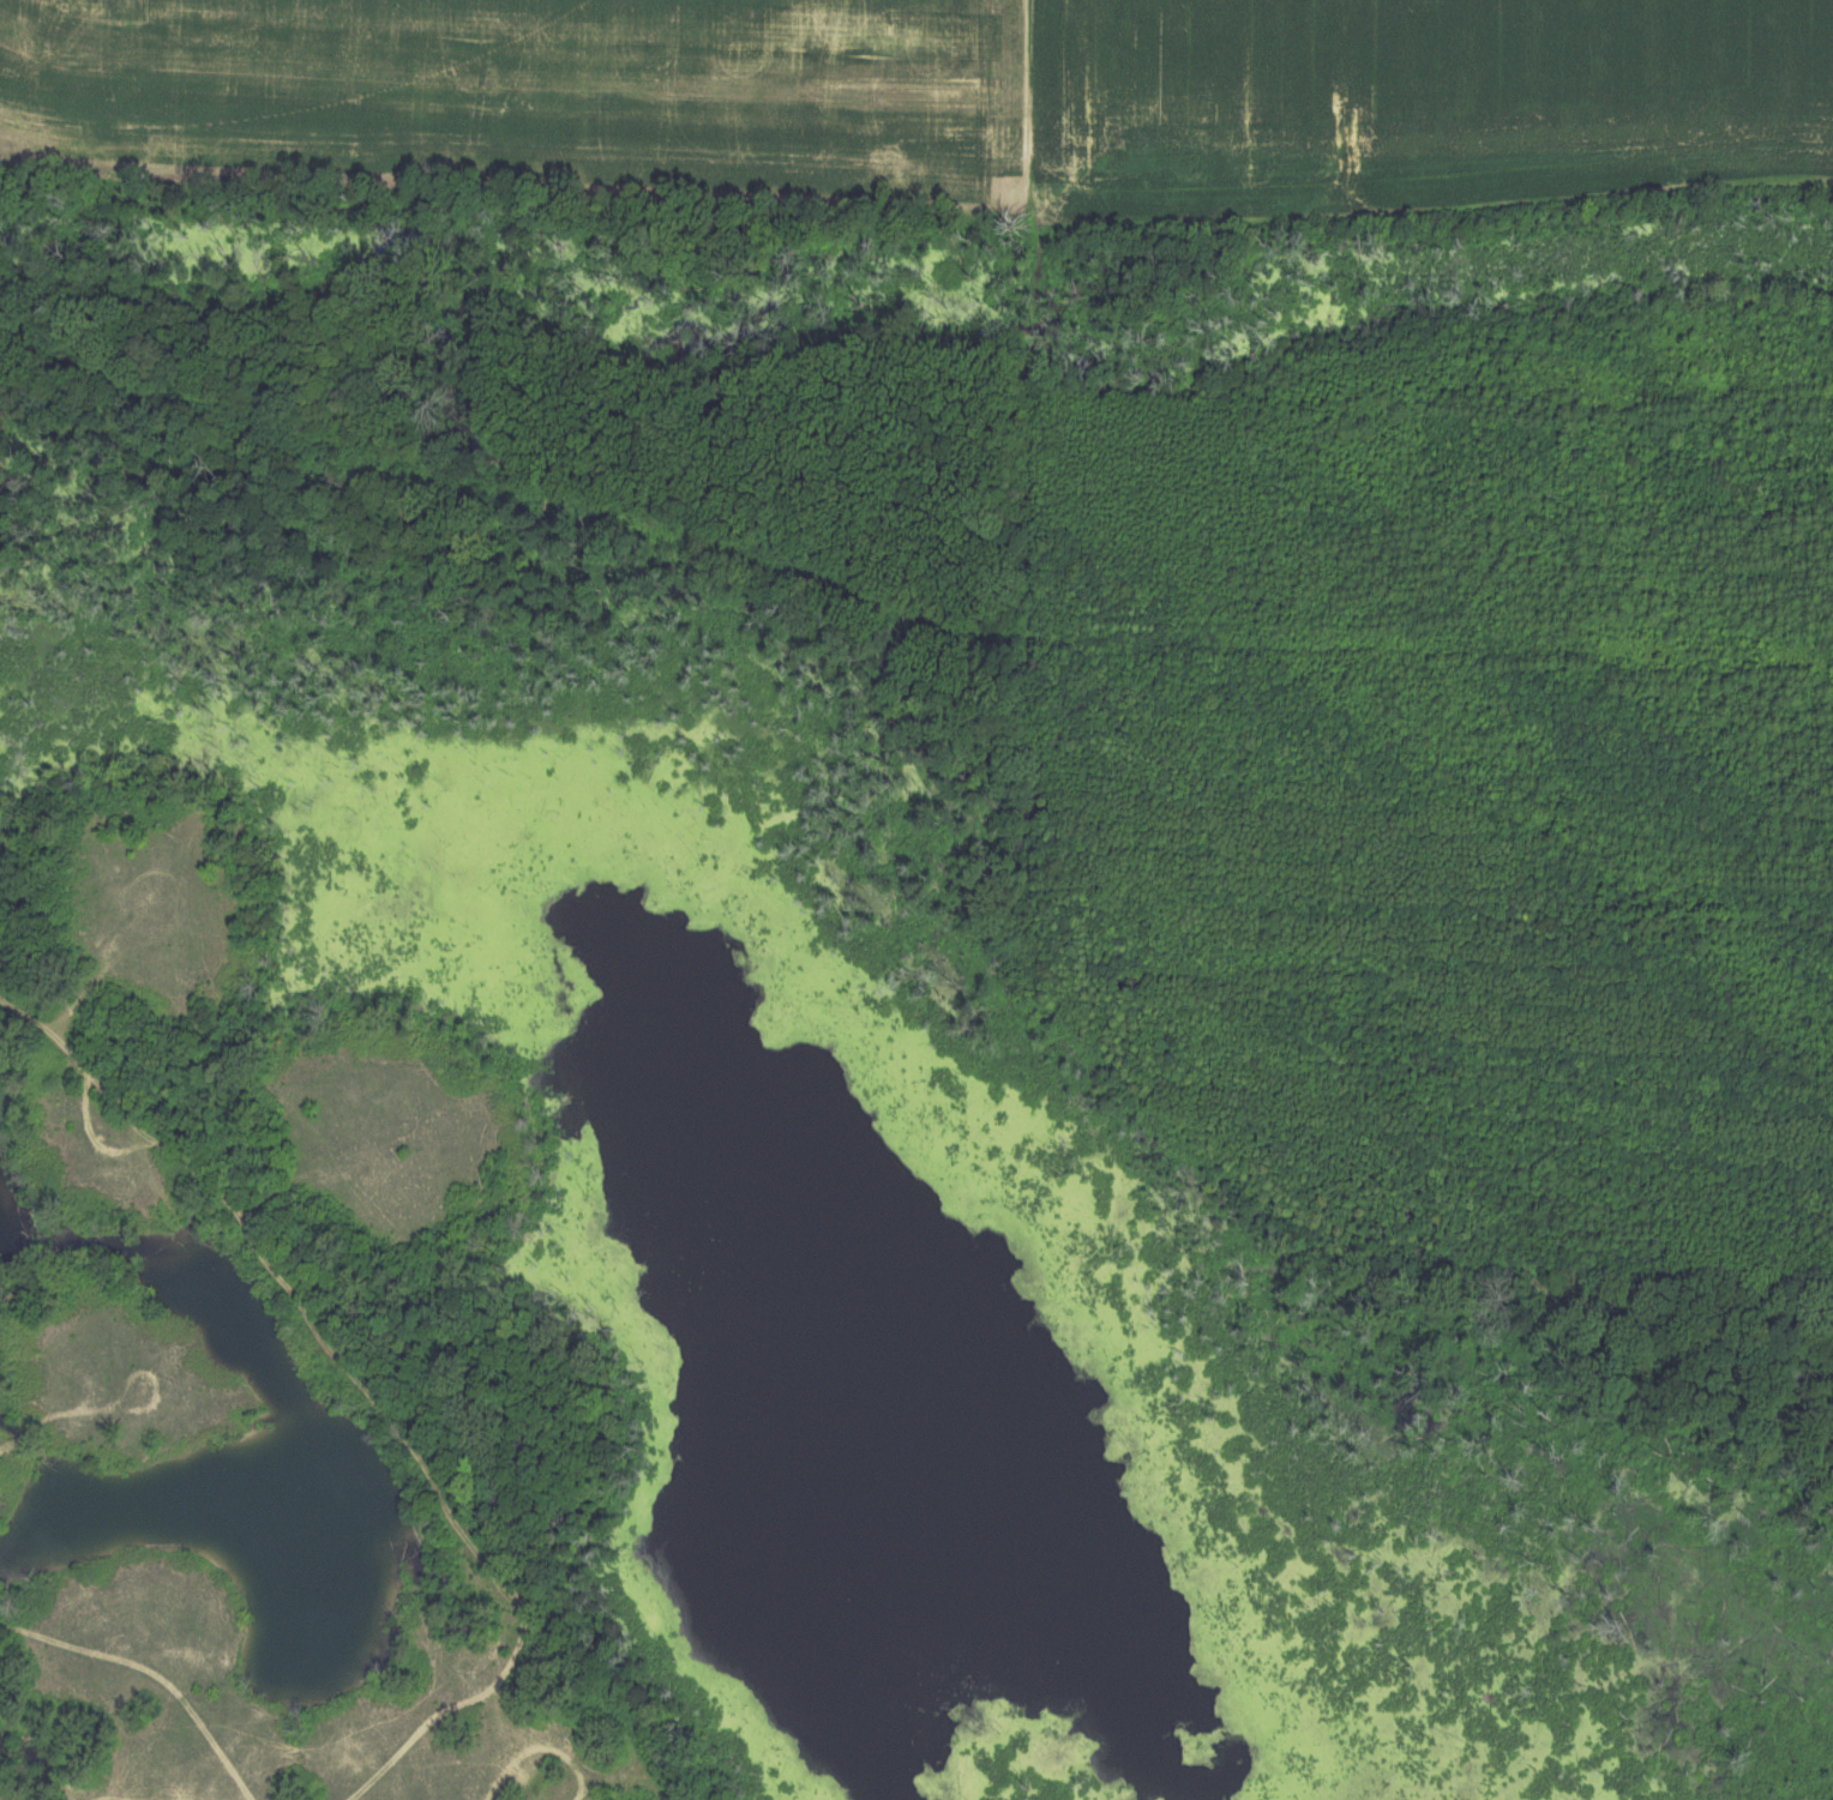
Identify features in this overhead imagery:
road: (142, 1372)
road: (35, 1423)
road: (535, 1750)
road: (50, 1788)
road: (578, 1793)

